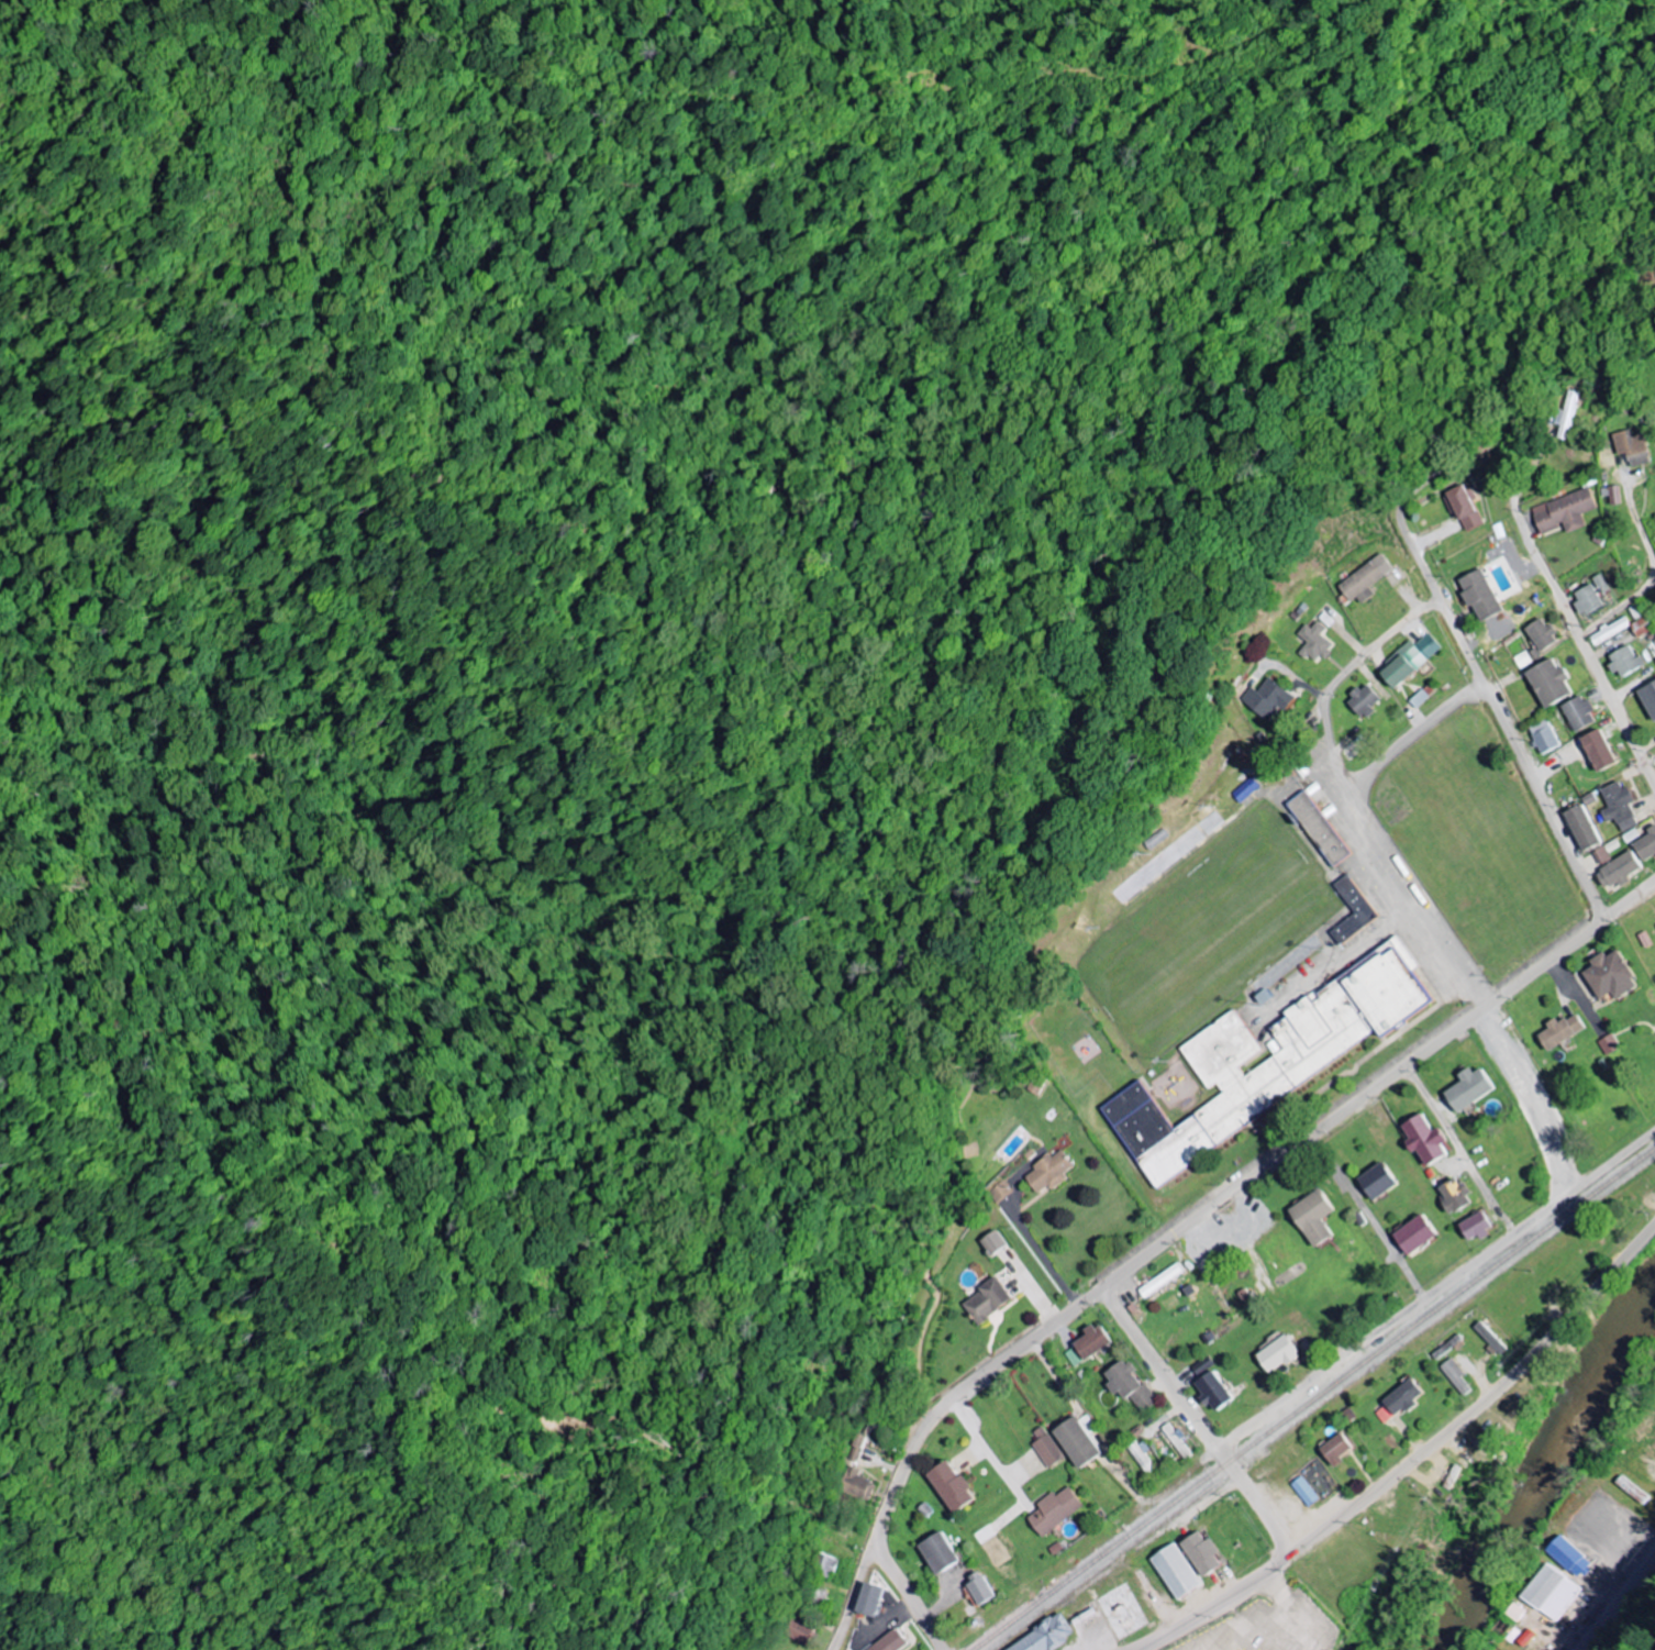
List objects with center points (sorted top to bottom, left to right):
building: (1566, 414)
building: (1631, 446)
building: (1610, 494)
building: (1462, 506)
building: (1562, 511)
road: (1574, 549)
road: (1514, 576)
building: (1362, 578)
building: (1598, 583)
building: (1477, 594)
building: (1585, 598)
road: (1588, 601)
road: (1629, 602)
building: (1640, 627)
building: (1608, 631)
building: (1539, 633)
building: (1311, 642)
road: (1586, 651)
building: (1406, 660)
building: (1521, 660)
building: (1623, 661)
road: (1333, 680)
building: (1547, 682)
building: (1266, 698)
building: (1417, 698)
building: (1648, 698)
building: (1360, 699)
building: (1577, 712)
road: (1502, 723)
building: (1542, 737)
building: (1597, 750)
building: (1235, 753)
building: (1242, 789)
building: (1618, 806)
building: (1581, 827)
building: (1315, 828)
road: (1364, 830)
building: (1631, 835)
building: (1156, 839)
building: (1646, 845)
building: (1602, 855)
building: (1618, 871)
building: (1351, 910)
building: (1611, 975)
building: (1262, 995)
building: (1562, 1030)
building: (1610, 1044)
building: (1266, 1060)
building: (1036, 1085)
building: (1469, 1088)
road: (1533, 1097)
building: (1424, 1139)
road: (1459, 1150)
building: (1047, 1171)
building: (1377, 1181)
building: (999, 1192)
building: (1455, 1195)
road: (1369, 1216)
building: (1312, 1217)
road: (1187, 1222)
building: (1477, 1226)
road: (1019, 1228)
building: (1415, 1234)
building: (989, 1242)
building: (1158, 1281)
road: (1024, 1286)
road: (1436, 1291)
building: (982, 1300)
building: (1492, 1338)
building: (1086, 1344)
building: (1278, 1354)
building: (1202, 1366)
building: (1458, 1376)
building: (1129, 1386)
building: (1212, 1391)
railway: (1313, 1400)
building: (1401, 1400)
road: (1197, 1420)
building: (1134, 1432)
building: (1076, 1440)
building: (1176, 1441)
building: (853, 1448)
building: (1044, 1448)
building: (1339, 1449)
road: (987, 1457)
building: (1142, 1457)
road: (1411, 1461)
river: (1541, 1475)
building: (852, 1485)
building: (947, 1486)
building: (1307, 1492)
building: (921, 1509)
building: (1053, 1510)
building: (1055, 1548)
building: (934, 1553)
building: (1202, 1553)
building: (1568, 1557)
building: (824, 1566)
building: (1177, 1572)
building: (978, 1588)
building: (1550, 1593)
road: (906, 1596)
road: (1614, 1598)
building: (865, 1599)
building: (796, 1630)
building: (1046, 1635)
building: (887, 1642)

